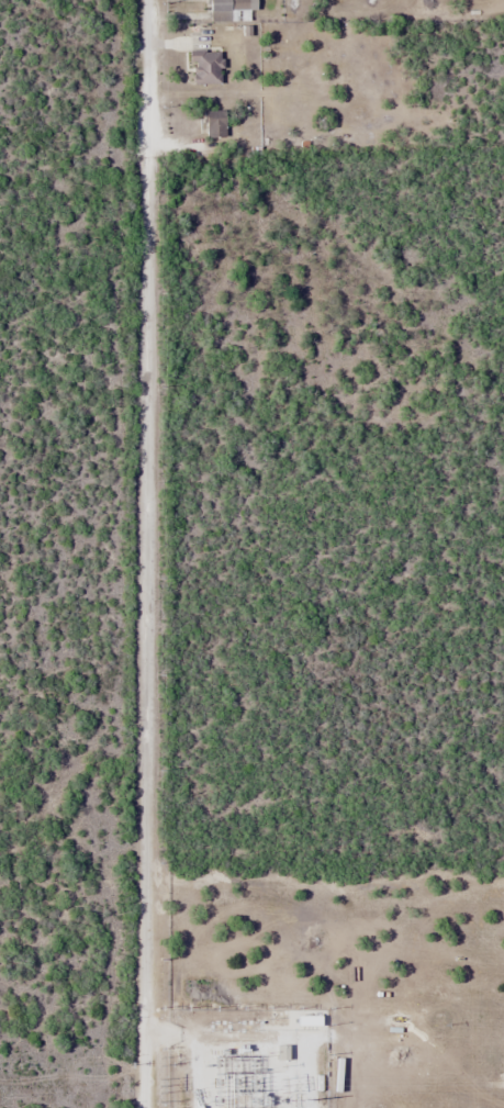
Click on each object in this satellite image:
building: (226, 10)
building: (203, 66)
road: (146, 76)
building: (213, 123)
road: (145, 630)
power substation: (248, 1059)
power tower: (159, 1086)
power tower: (281, 1099)

